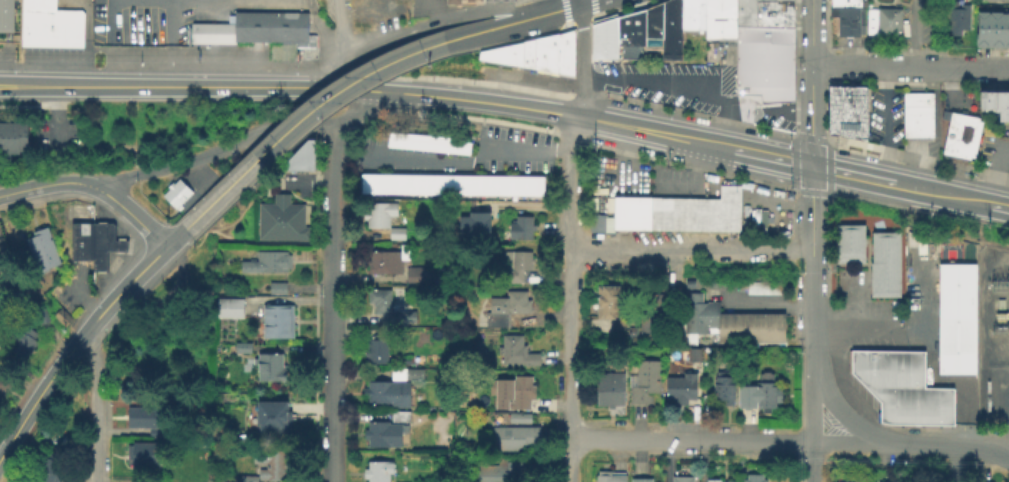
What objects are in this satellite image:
building: (763, 0)
building: (781, 0)
building: (980, 0)
building: (993, 0)
building: (452, 1)
building: (468, 1)
building: (496, 1)
building: (1004, 1)
road: (577, 3)
road: (587, 3)
building: (846, 4)
building: (36, 5)
parking lot: (423, 7)
road: (431, 12)
road: (554, 13)
building: (744, 13)
building: (691, 14)
building: (772, 14)
building: (5, 17)
building: (882, 19)
building: (710, 20)
building: (726, 20)
building: (957, 21)
building: (848, 22)
road: (434, 24)
building: (652, 26)
building: (50, 29)
road: (490, 29)
road: (342, 30)
building: (670, 30)
building: (982, 31)
building: (996, 31)
building: (255, 32)
building: (1006, 32)
building: (629, 36)
road: (914, 38)
building: (609, 40)
road: (581, 42)
building: (595, 42)
building: (564, 44)
building: (544, 46)
building: (501, 53)
building: (526, 55)
building: (506, 62)
building: (543, 64)
building: (563, 66)
road: (910, 66)
building: (761, 69)
road: (330, 74)
parking lot: (523, 80)
parking lot: (673, 82)
road: (810, 82)
road: (662, 84)
road: (158, 87)
road: (350, 89)
road: (582, 98)
road: (480, 102)
building: (984, 103)
building: (993, 103)
building: (1003, 108)
road: (360, 111)
building: (847, 112)
road: (304, 113)
road: (729, 113)
road: (744, 114)
road: (780, 114)
road: (54, 116)
building: (917, 117)
road: (886, 124)
road: (1006, 128)
road: (721, 129)
road: (655, 132)
building: (12, 137)
building: (392, 137)
building: (960, 137)
building: (402, 138)
building: (413, 139)
building: (423, 140)
building: (434, 142)
building: (445, 143)
road: (133, 146)
building: (459, 146)
road: (293, 147)
road: (216, 151)
building: (300, 156)
road: (770, 156)
road: (455, 164)
traffic signals: (809, 165)
road: (850, 174)
road: (994, 174)
road: (202, 182)
road: (309, 182)
building: (368, 182)
building: (384, 182)
building: (401, 182)
building: (418, 183)
building: (434, 183)
building: (451, 183)
building: (467, 183)
building: (484, 183)
building: (500, 183)
road: (333, 184)
building: (517, 184)
building: (533, 184)
road: (50, 185)
building: (175, 192)
road: (941, 194)
road: (521, 203)
road: (999, 207)
building: (708, 209)
building: (659, 212)
building: (379, 213)
building: (627, 213)
road: (132, 217)
building: (281, 218)
building: (473, 223)
building: (520, 226)
building: (395, 232)
road: (809, 233)
road: (173, 236)
building: (848, 242)
building: (92, 245)
building: (41, 248)
park: (947, 250)
road: (690, 253)
building: (266, 261)
building: (384, 261)
building: (884, 262)
building: (514, 264)
road: (333, 268)
road: (155, 269)
building: (414, 272)
road: (365, 277)
building: (688, 282)
building: (275, 286)
building: (763, 287)
road: (175, 294)
road: (570, 299)
building: (606, 301)
road: (767, 302)
road: (852, 302)
building: (1002, 303)
building: (228, 305)
building: (389, 307)
building: (504, 307)
building: (196, 308)
building: (649, 311)
building: (39, 313)
building: (61, 316)
building: (955, 318)
building: (276, 319)
building: (727, 322)
road: (866, 325)
power substation: (992, 332)
building: (22, 342)
road: (72, 342)
building: (241, 346)
building: (479, 346)
road: (929, 348)
building: (376, 349)
building: (514, 350)
building: (690, 353)
building: (407, 361)
building: (269, 366)
building: (886, 366)
road: (811, 371)
building: (3, 379)
building: (644, 380)
building: (679, 386)
building: (391, 387)
building: (608, 387)
building: (723, 387)
road: (331, 388)
building: (510, 390)
building: (766, 391)
building: (746, 398)
building: (168, 402)
road: (96, 404)
building: (913, 404)
road: (840, 412)
building: (143, 415)
building: (270, 415)
building: (399, 415)
building: (518, 416)
building: (383, 432)
building: (516, 436)
road: (728, 440)
road: (930, 443)
road: (992, 444)
road: (992, 450)
building: (139, 453)
road: (811, 461)
building: (268, 466)
building: (46, 470)
building: (376, 470)
building: (498, 472)
building: (608, 475)
building: (753, 477)
building: (681, 478)
building: (640, 479)
building: (713, 479)
building: (849, 481)
building: (889, 481)

